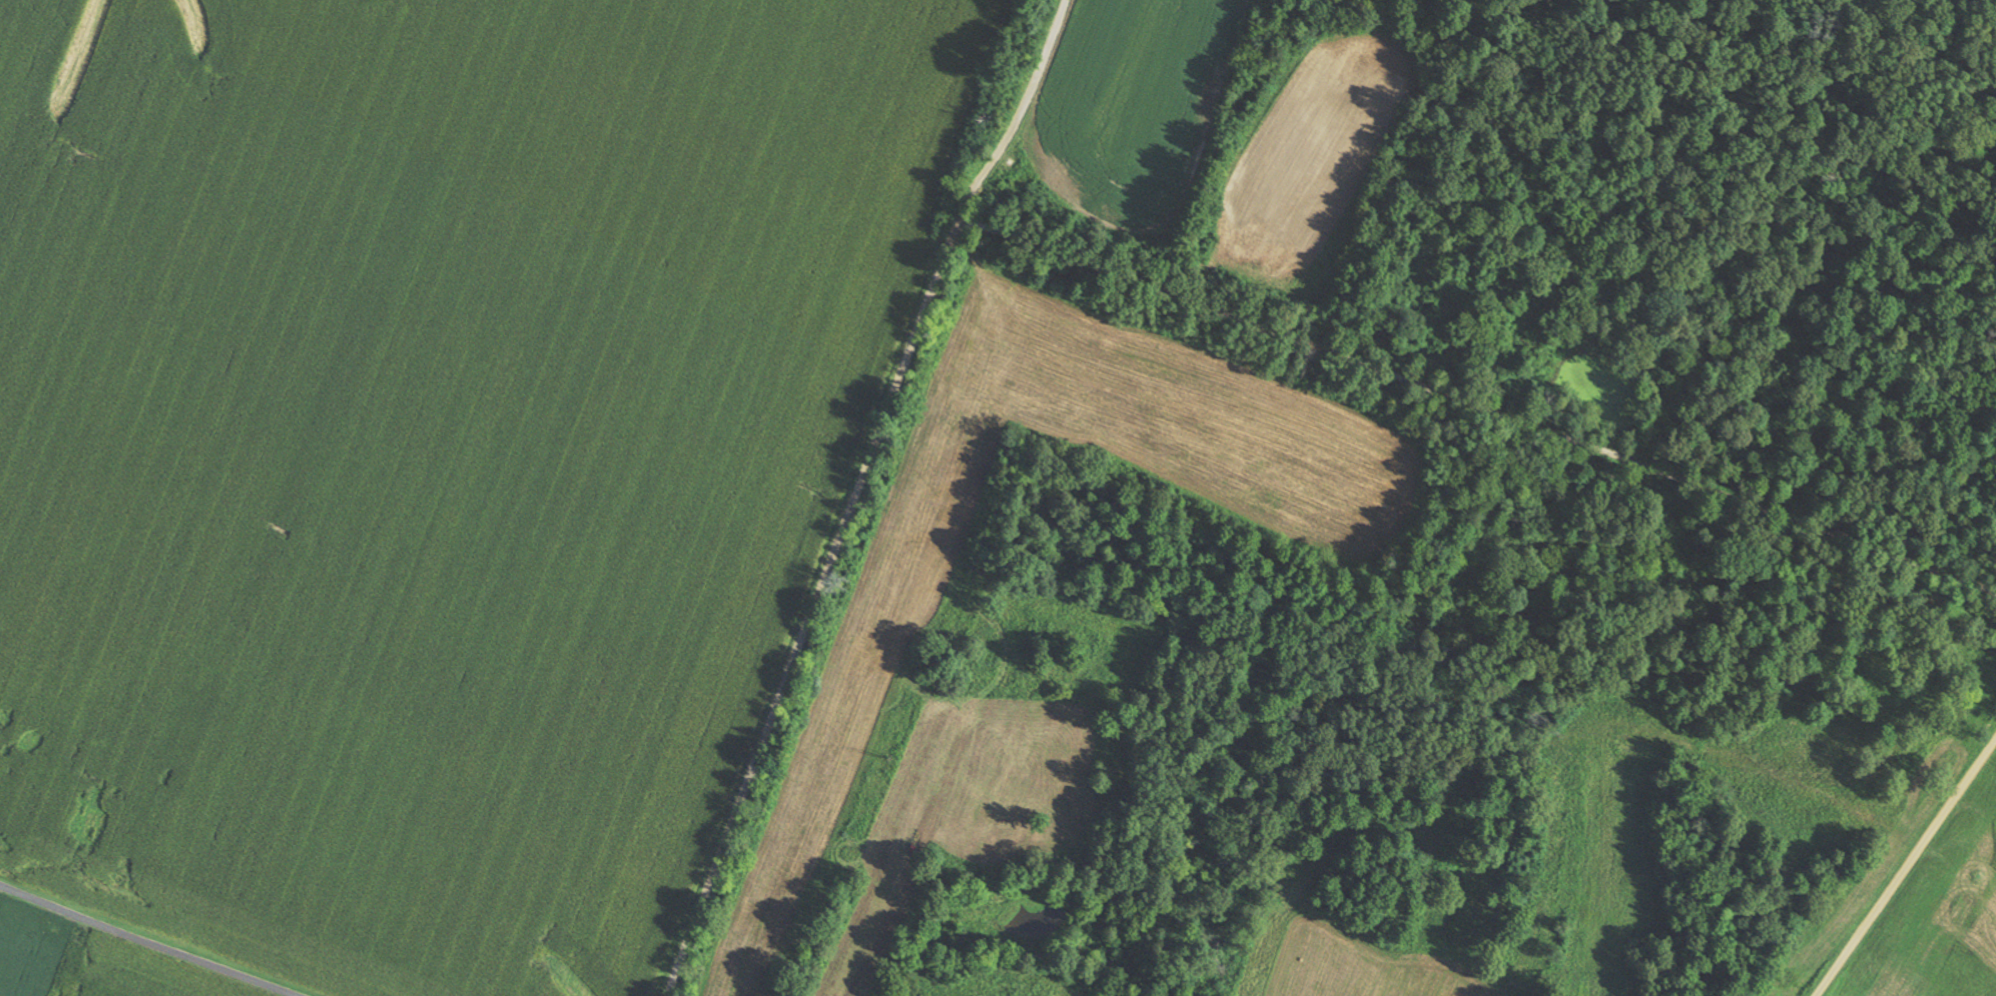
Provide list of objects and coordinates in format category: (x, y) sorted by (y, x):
road: (1906, 869)

